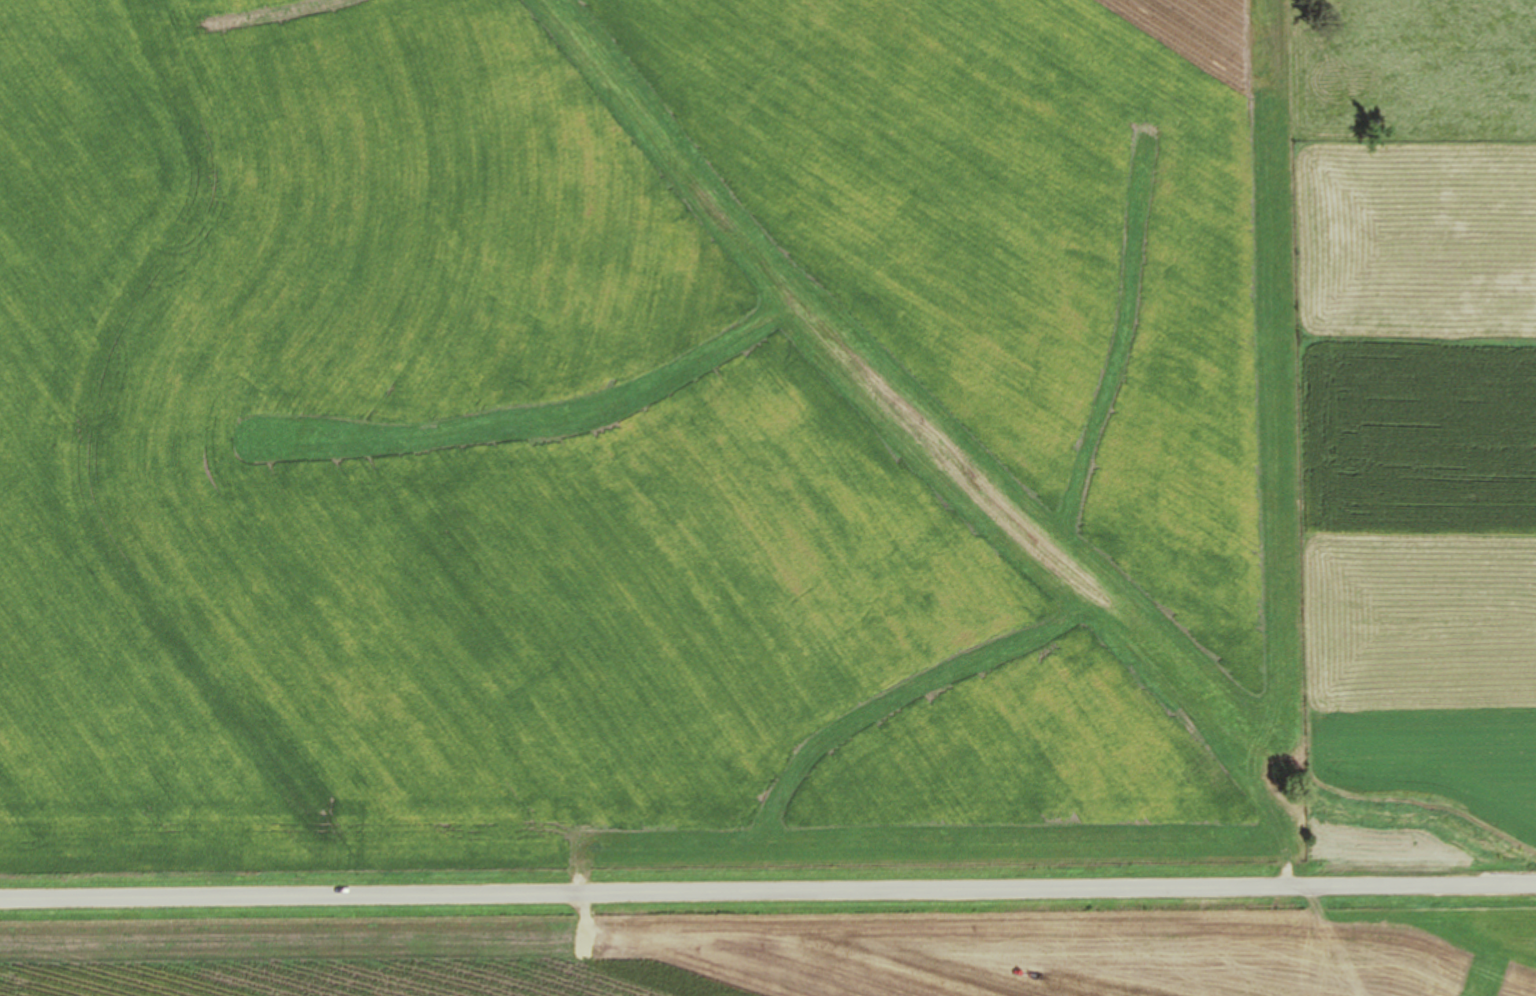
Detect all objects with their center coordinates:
road: (768, 895)

